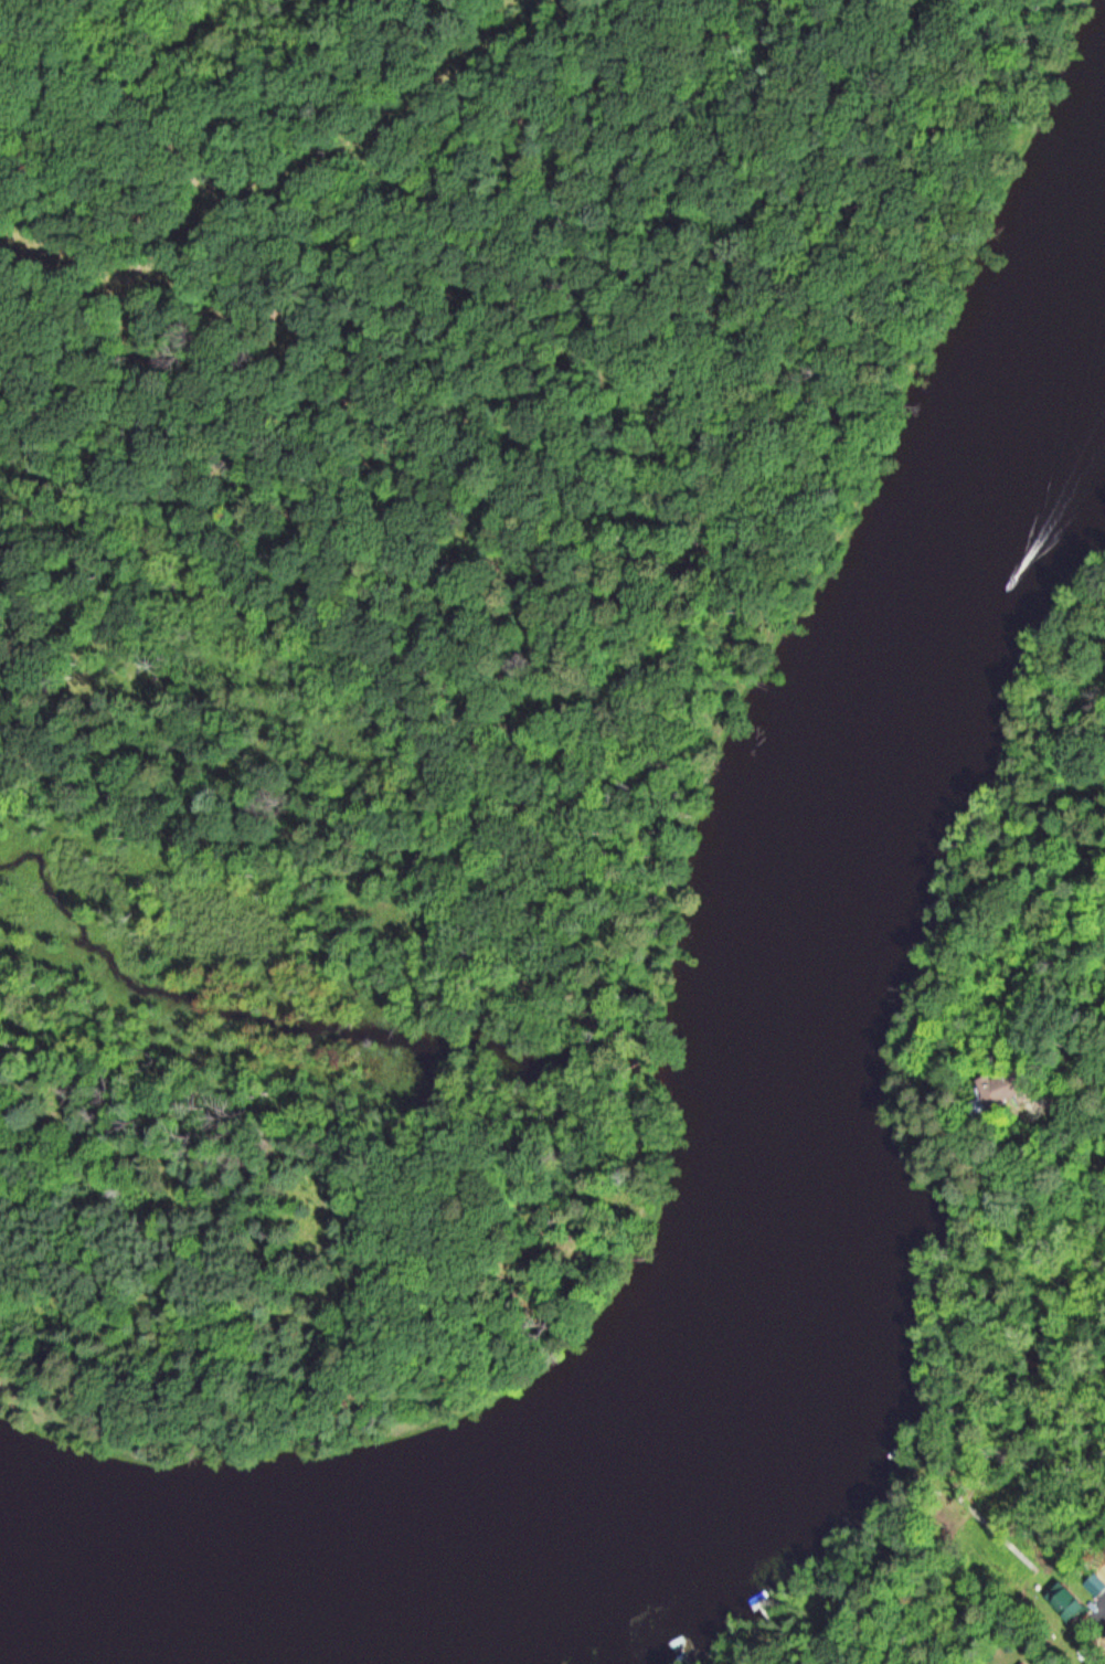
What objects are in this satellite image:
road: (596, 819)
building: (1012, 1088)
river: (801, 1239)
building: (1072, 1607)

